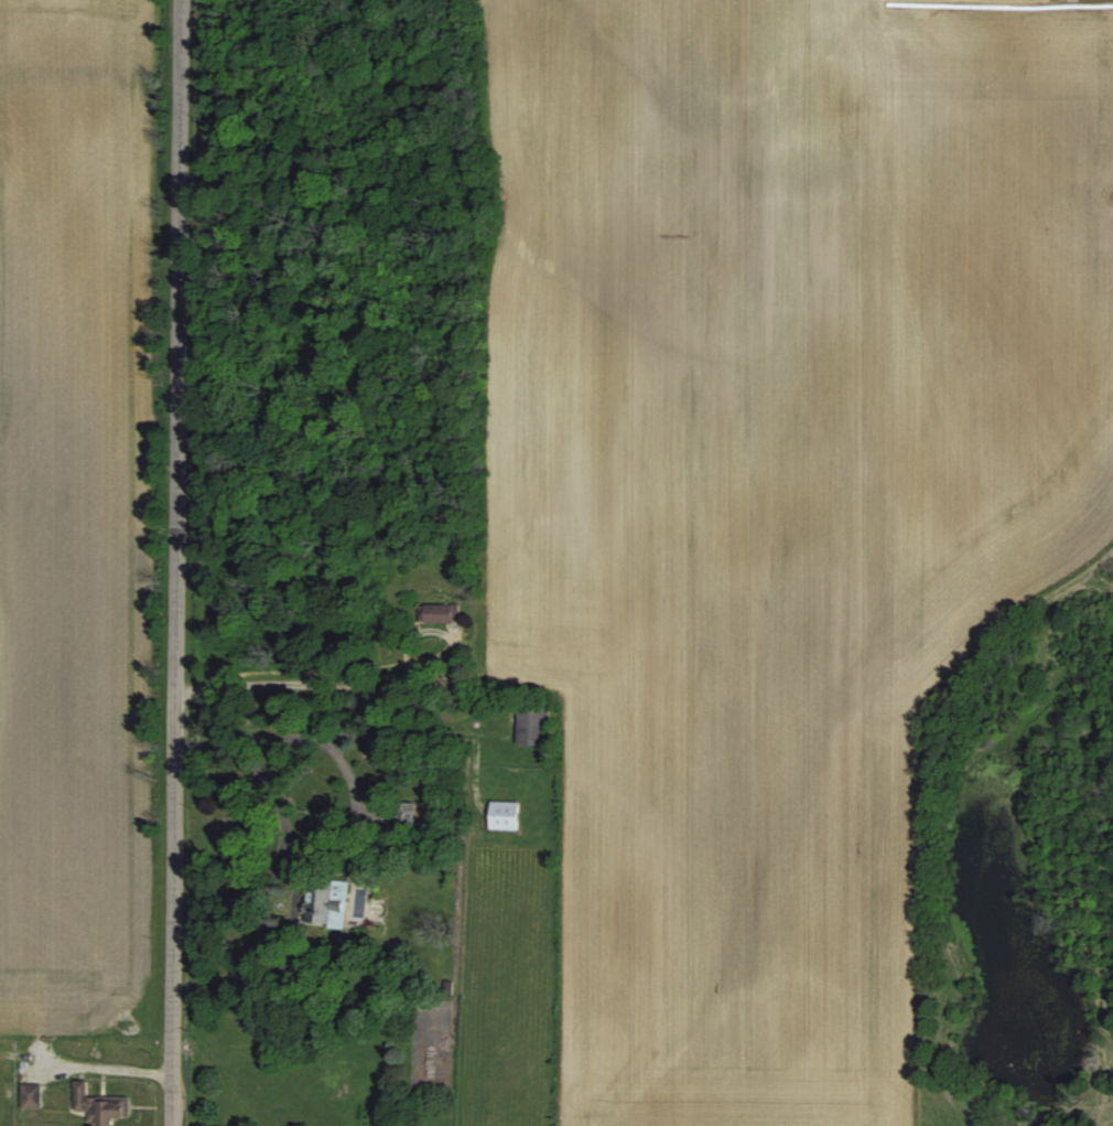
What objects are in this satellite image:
road: (175, 562)
building: (435, 612)
building: (528, 726)
road: (318, 736)
road: (355, 794)
building: (498, 815)
road: (296, 884)
building: (324, 902)
road: (104, 1070)
building: (28, 1095)
building: (96, 1106)

